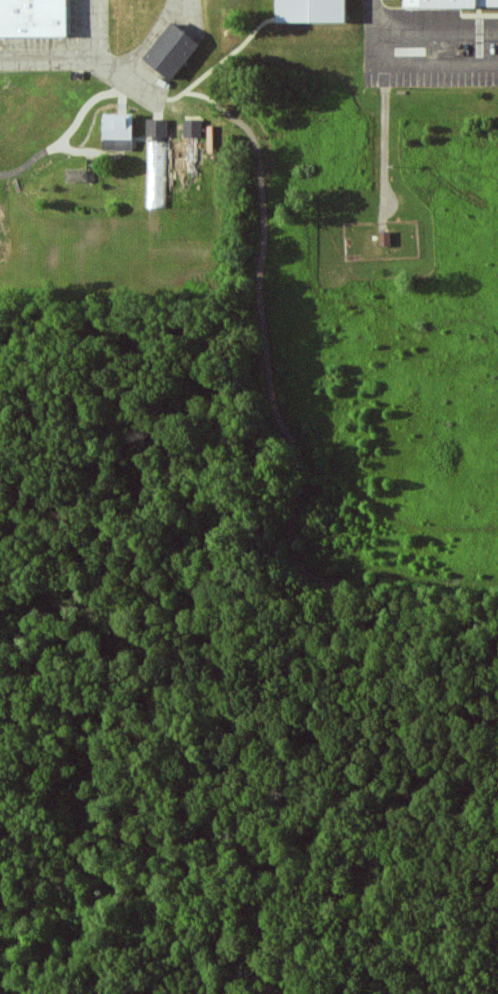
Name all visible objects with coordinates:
building: (452, 3)
building: (313, 11)
building: (34, 18)
road: (421, 34)
building: (173, 52)
road: (107, 64)
road: (425, 66)
building: (193, 128)
building: (158, 129)
building: (119, 132)
building: (77, 176)
building: (386, 239)

